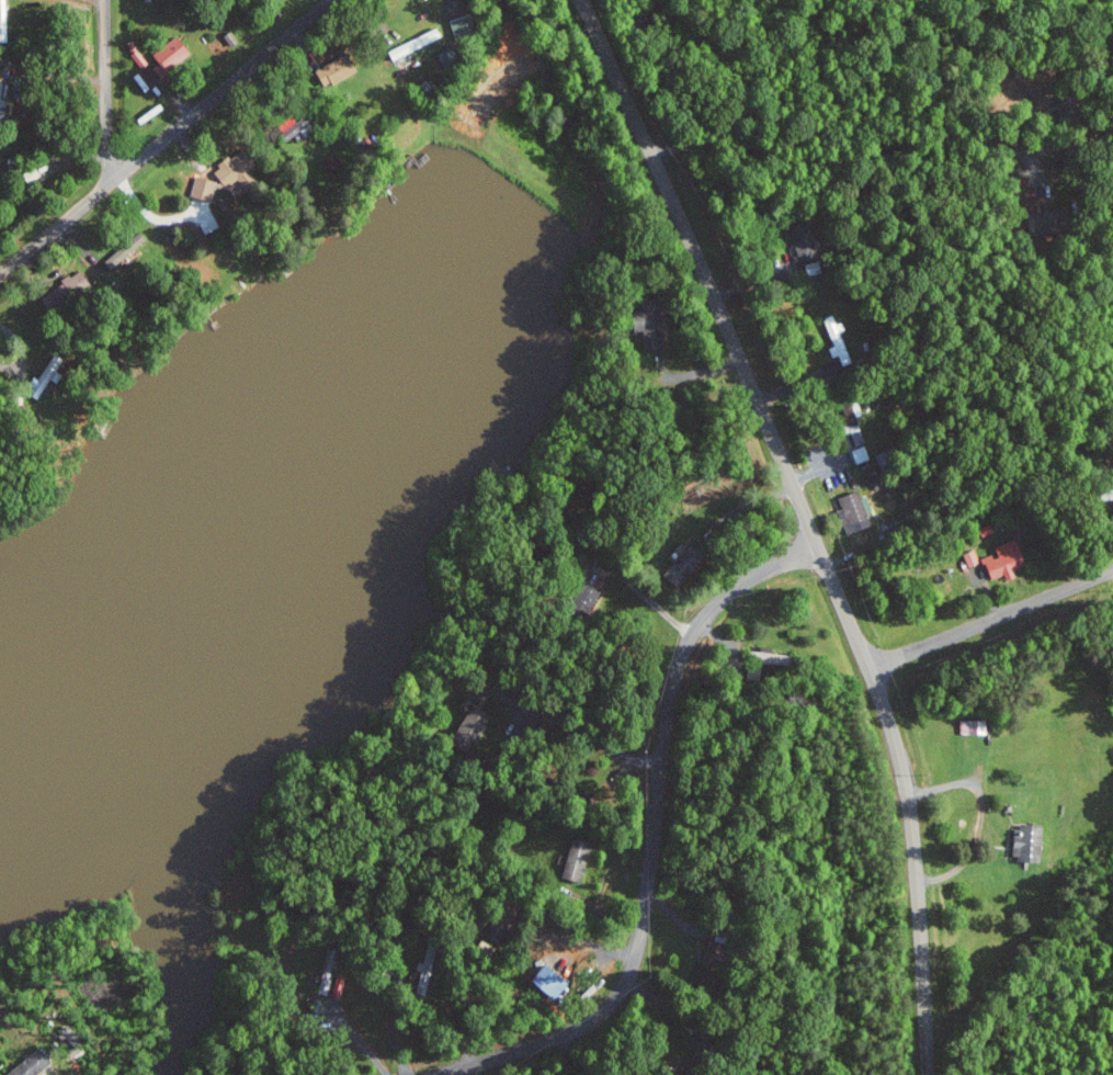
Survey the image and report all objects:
road: (99, 3)
building: (3, 21)
building: (465, 26)
building: (418, 42)
building: (172, 55)
building: (141, 58)
building: (339, 69)
road: (105, 89)
road: (167, 136)
road: (852, 155)
dam: (510, 169)
building: (236, 171)
building: (225, 203)
building: (803, 239)
building: (123, 257)
building: (68, 290)
building: (651, 327)
building: (838, 339)
building: (48, 374)
building: (858, 431)
building: (861, 454)
building: (854, 512)
road: (807, 523)
building: (973, 557)
building: (1006, 558)
building: (686, 563)
road: (646, 597)
building: (587, 598)
road: (991, 619)
building: (475, 722)
building: (975, 726)
road: (586, 737)
road: (979, 815)
road: (652, 833)
building: (1029, 841)
building: (578, 860)
building: (329, 962)
building: (715, 963)
building: (548, 977)
road: (356, 1041)
building: (34, 1064)

